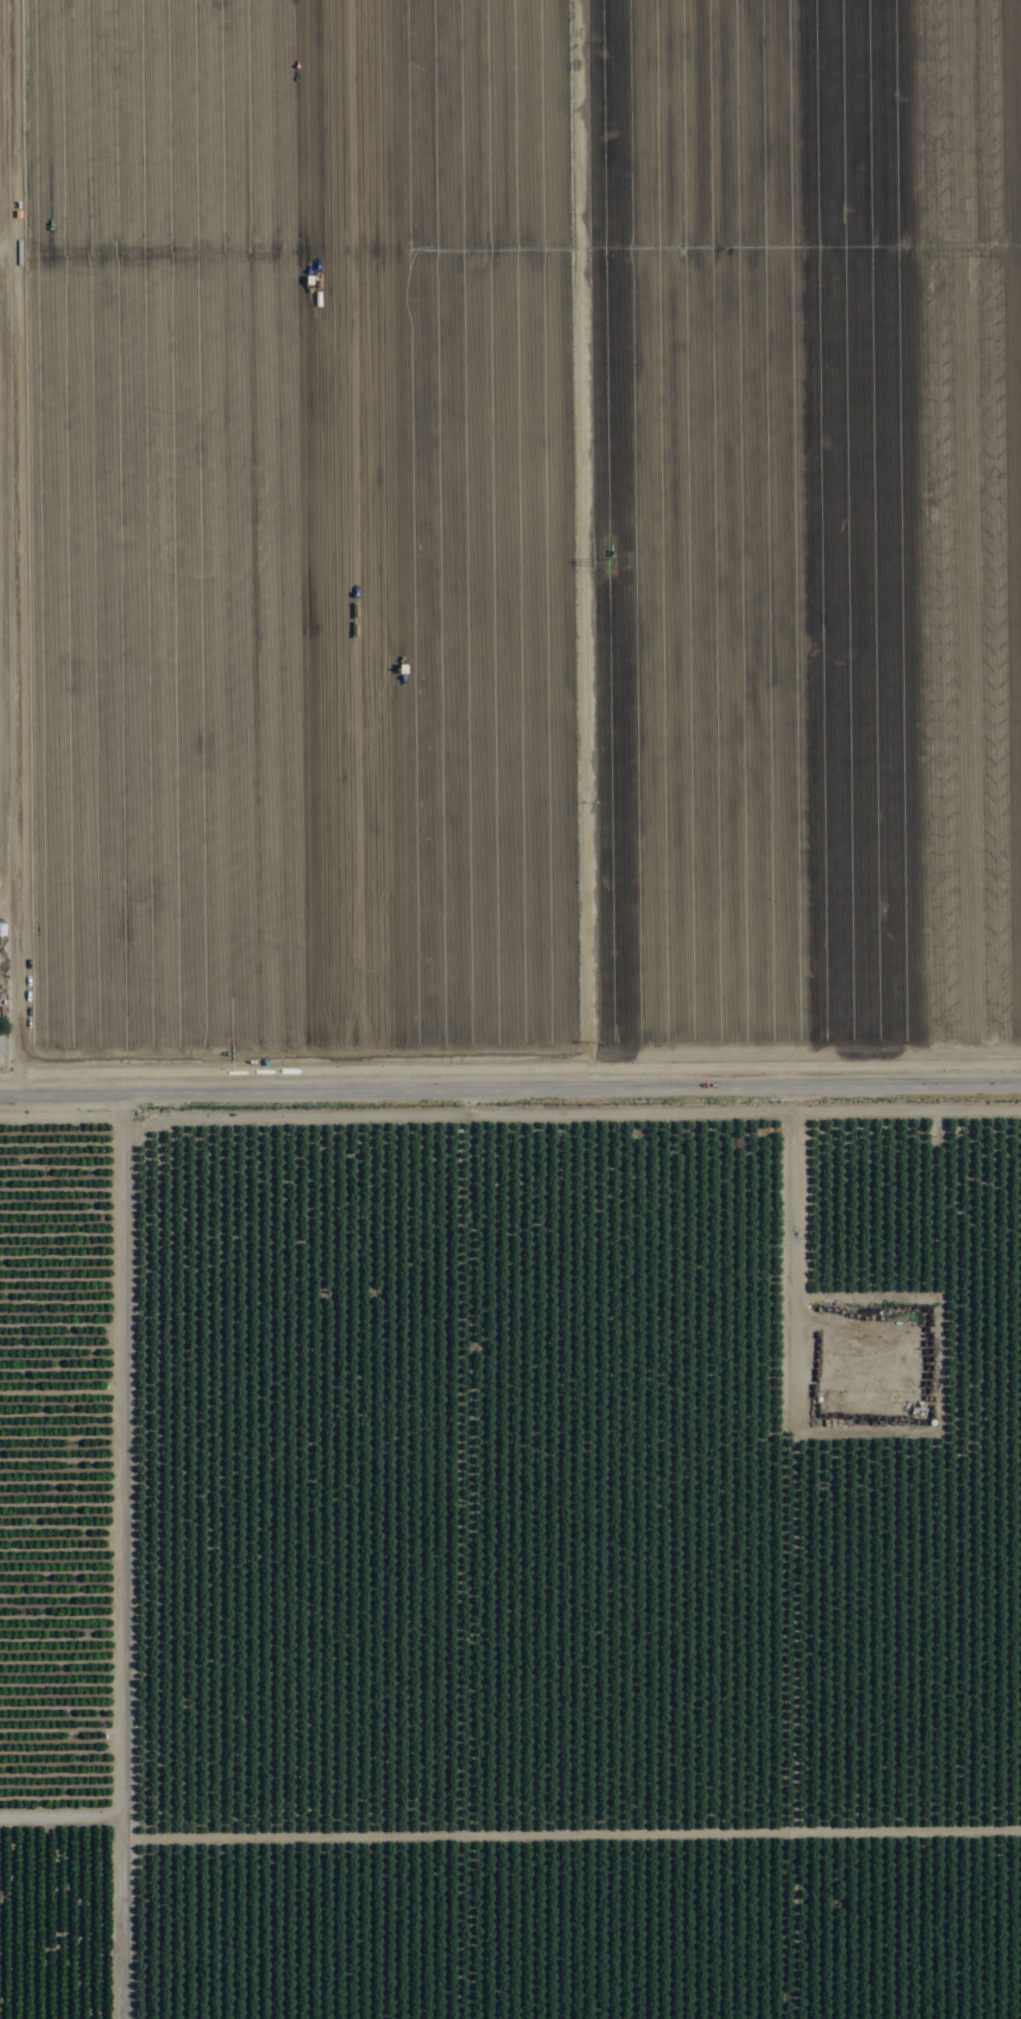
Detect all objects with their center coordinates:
road: (1, 1001)
crop: (510, 1009)
road: (510, 1092)
road: (910, 1554)
road: (99, 1558)

